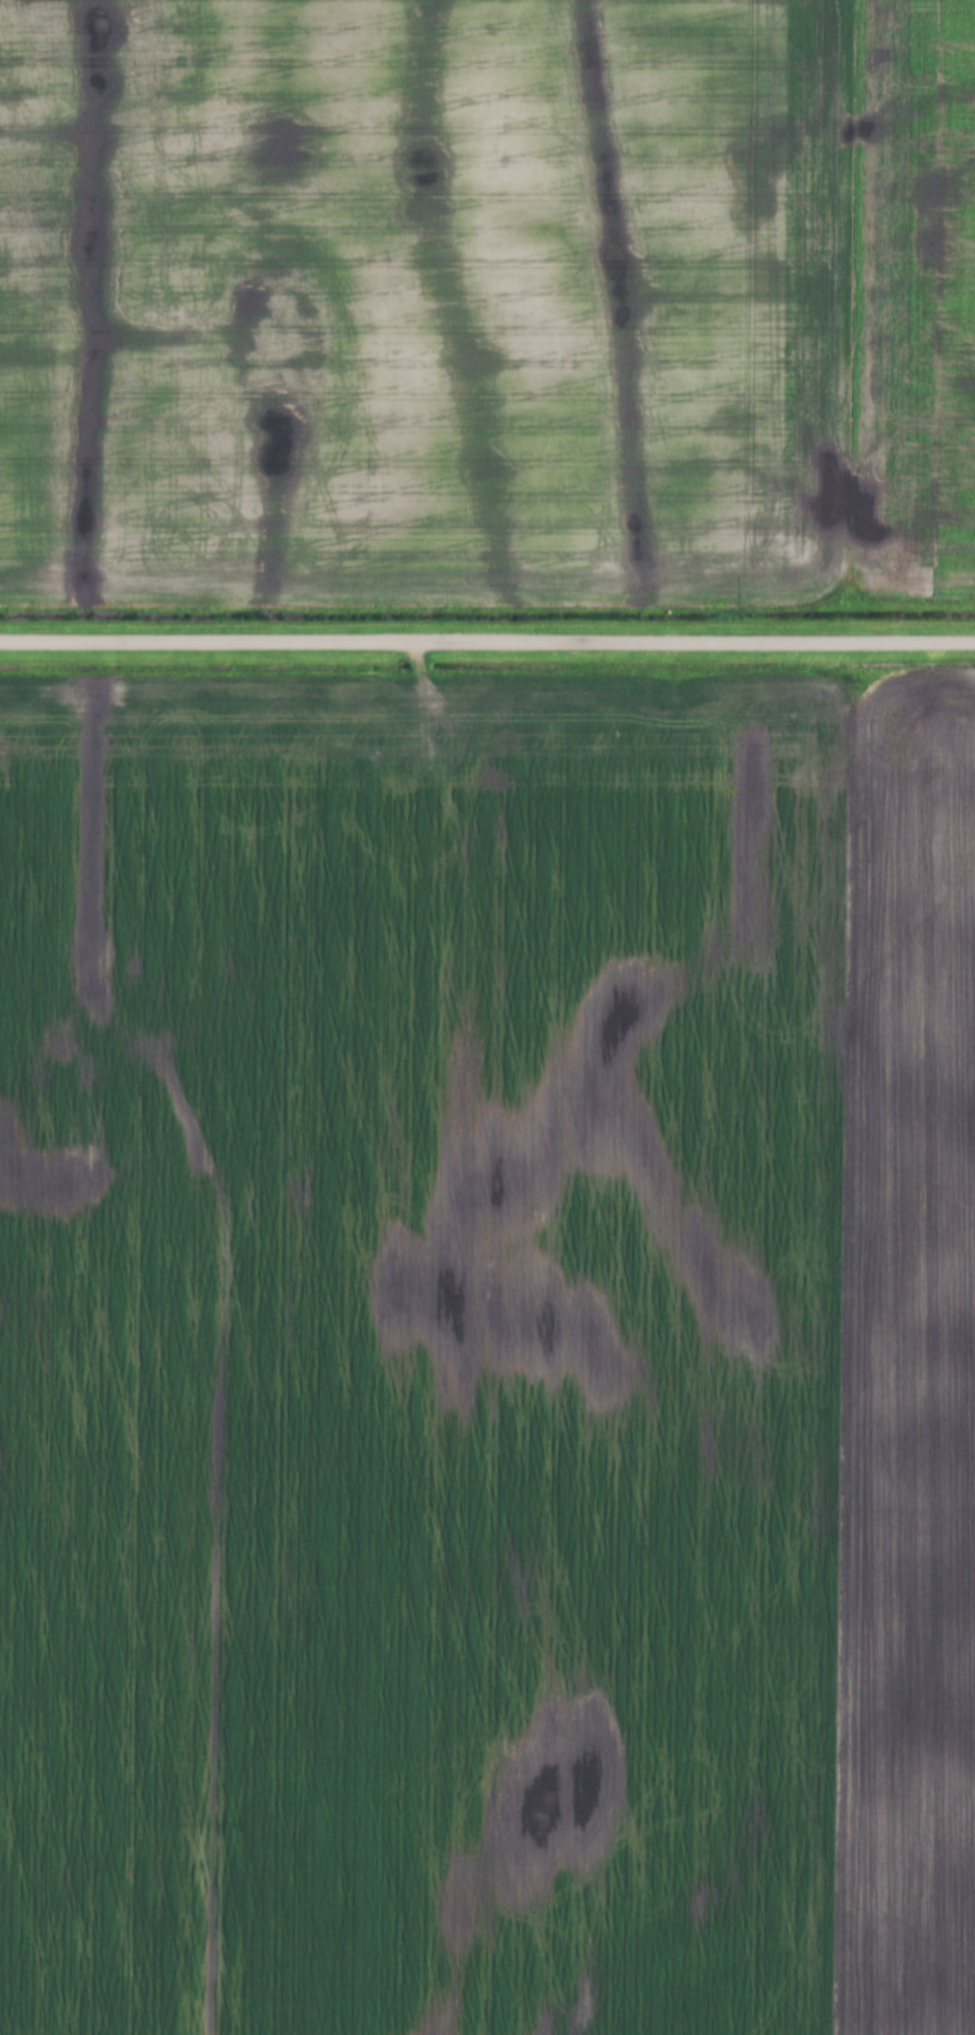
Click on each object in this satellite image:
road: (487, 644)

